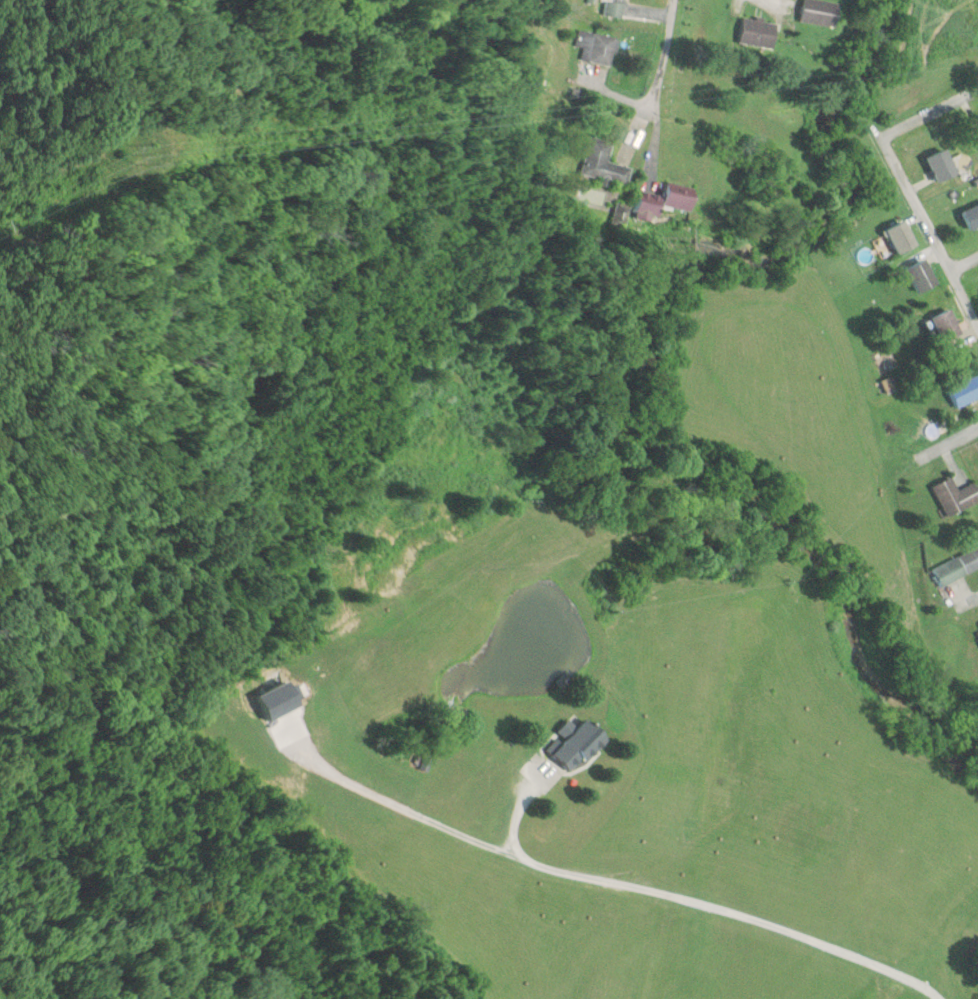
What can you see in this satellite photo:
road: (785, 1)
building: (616, 8)
building: (819, 12)
building: (758, 33)
building: (597, 46)
road: (662, 59)
road: (928, 110)
power tower: (123, 151)
building: (603, 163)
building: (941, 165)
building: (657, 200)
building: (971, 216)
road: (927, 236)
building: (901, 237)
road: (961, 263)
building: (921, 276)
building: (945, 324)
building: (964, 390)
road: (934, 480)
building: (955, 496)
building: (957, 567)
road: (973, 628)
building: (579, 743)

